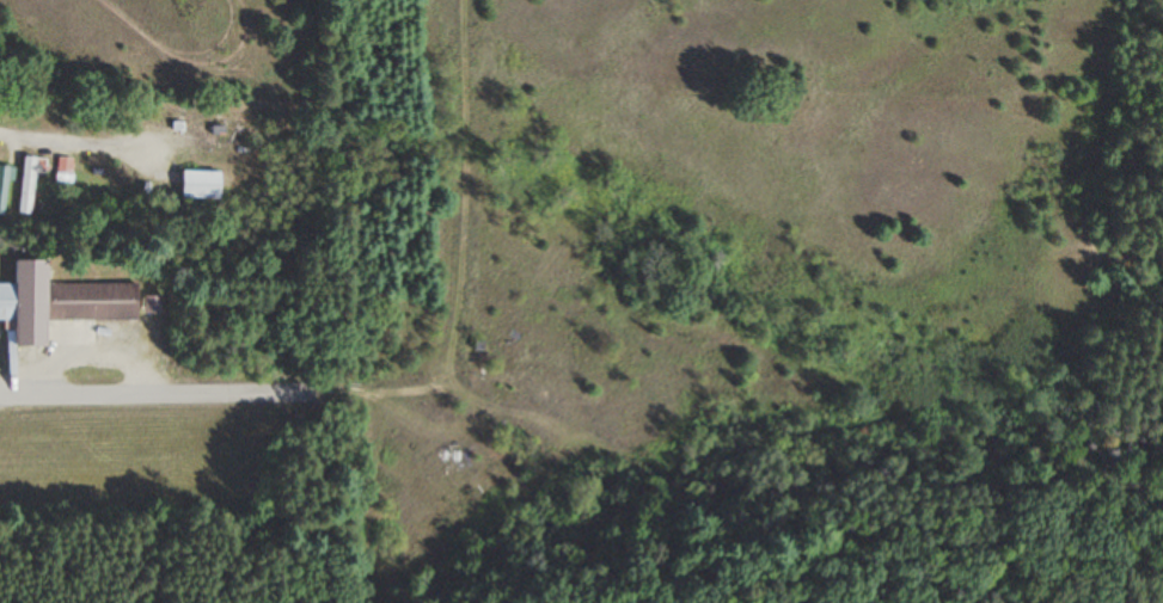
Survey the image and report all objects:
road: (65, 140)
building: (198, 185)
building: (1, 186)
building: (25, 186)
building: (57, 303)
road: (172, 393)

